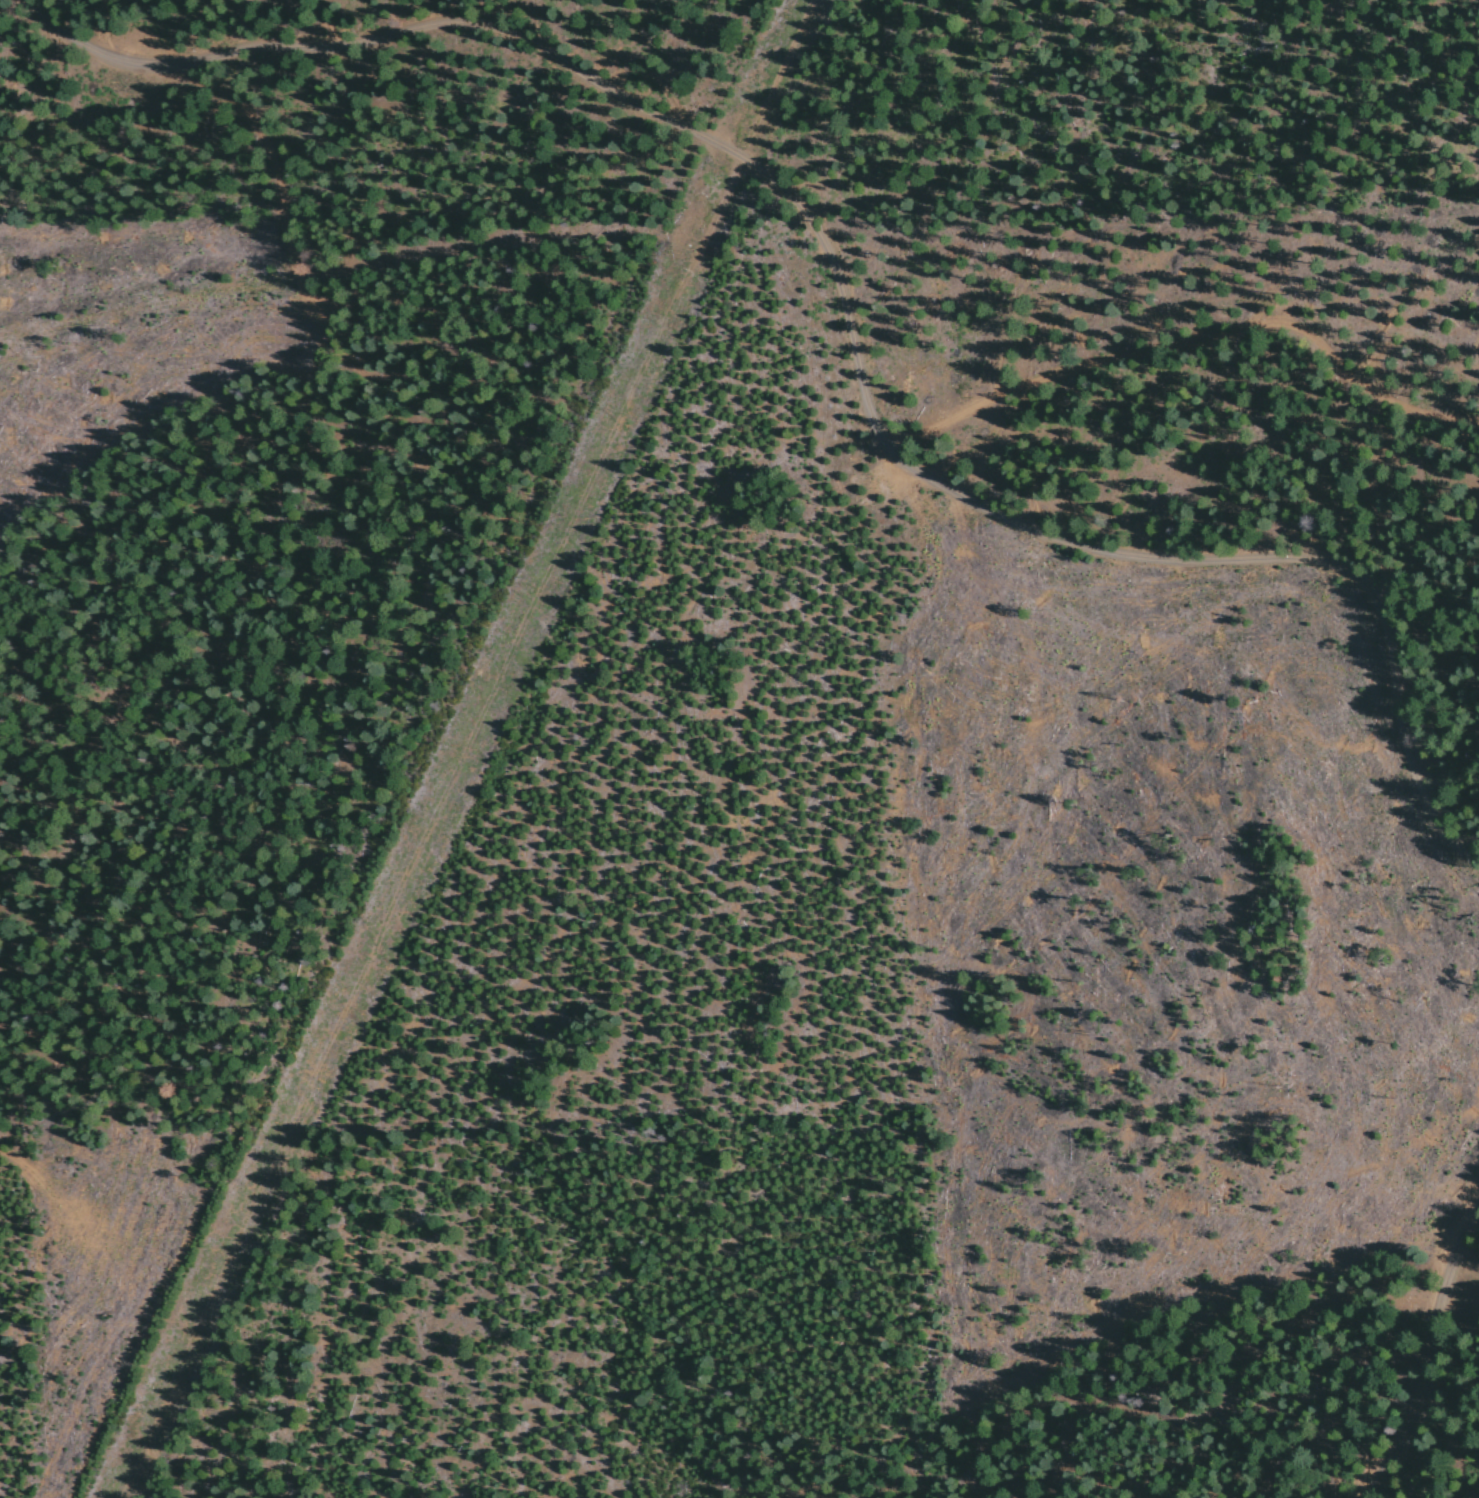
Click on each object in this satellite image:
road: (845, 318)
road: (1363, 411)
road: (464, 750)
road: (1435, 1357)

